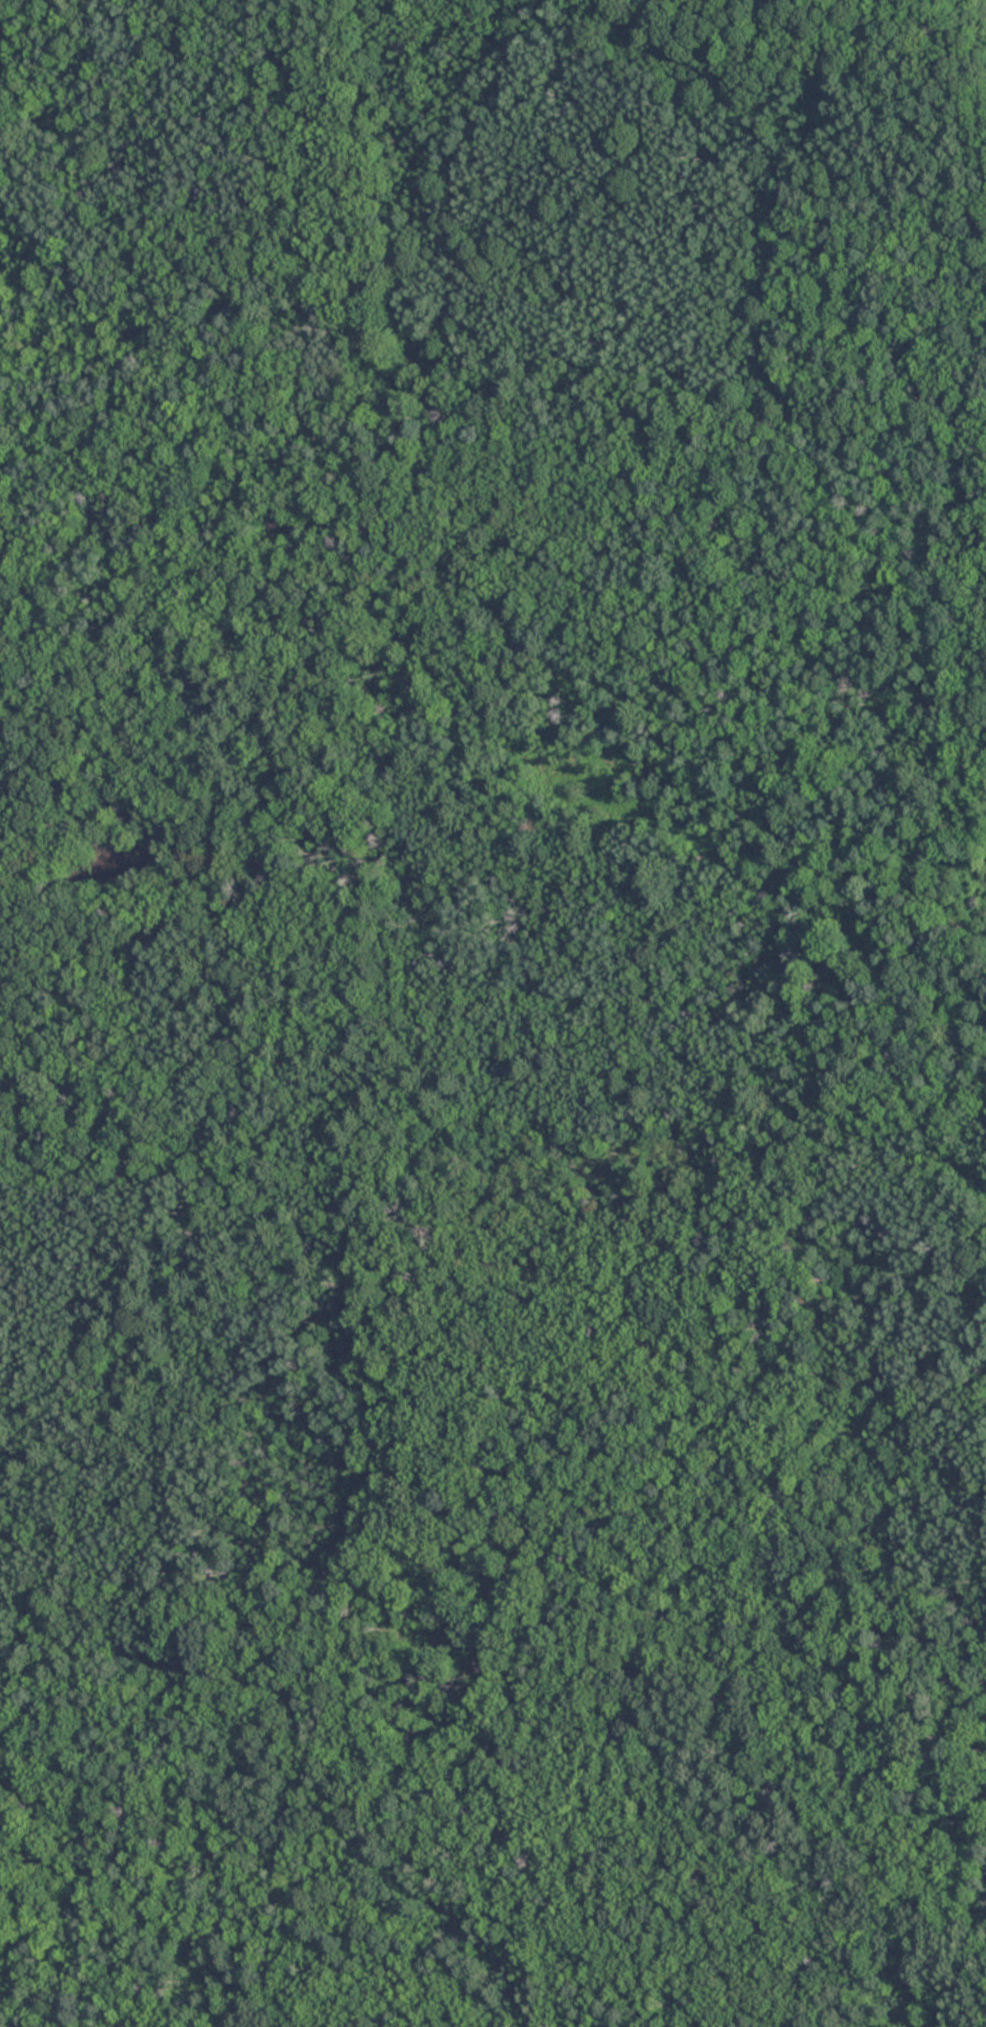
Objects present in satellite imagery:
park: (493, 1013)

